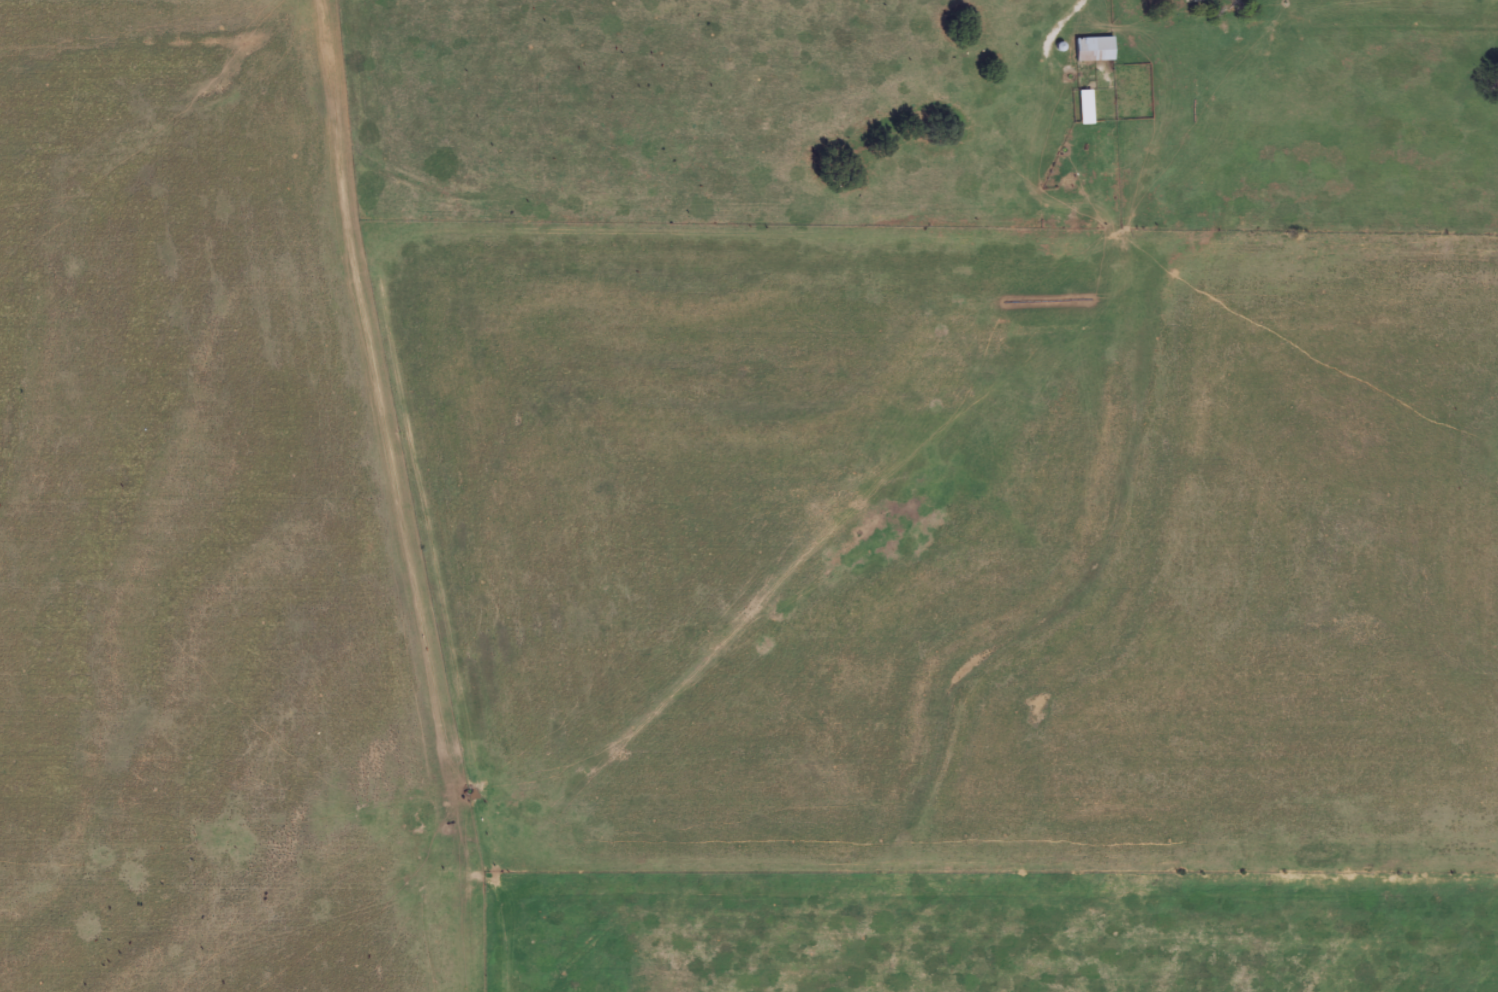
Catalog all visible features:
building: (1096, 50)
building: (1087, 108)

